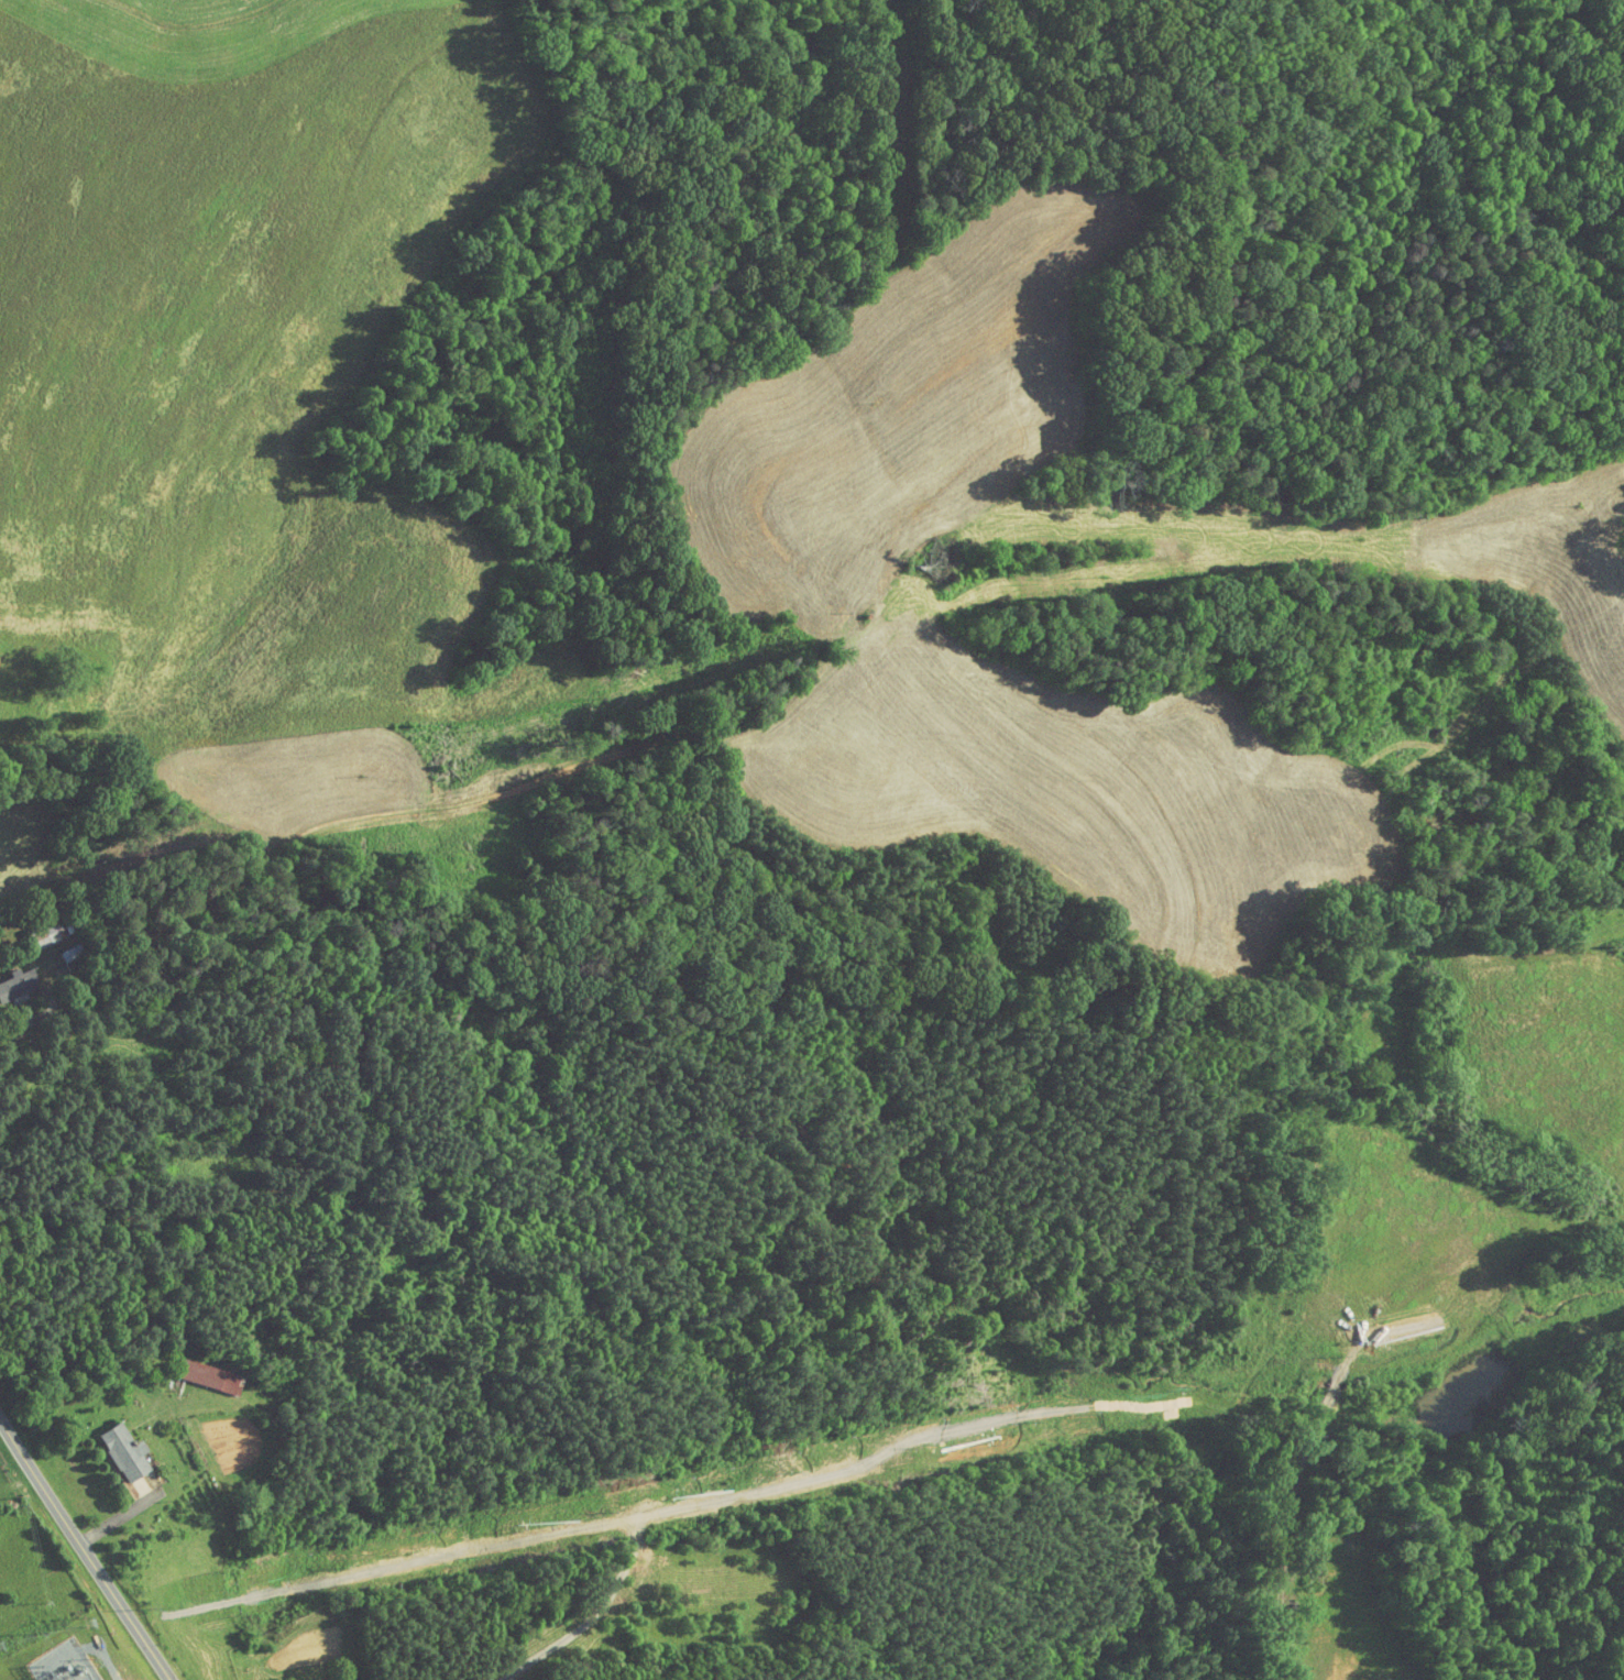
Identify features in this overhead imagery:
building: (33, 926)
building: (44, 933)
building: (68, 952)
building: (10, 974)
building: (15, 982)
road: (17, 1023)
building: (196, 1369)
building: (121, 1452)
road: (84, 1551)
power tower: (151, 1608)
power tower: (87, 1622)
power tower: (40, 1632)
power substation: (64, 1663)

